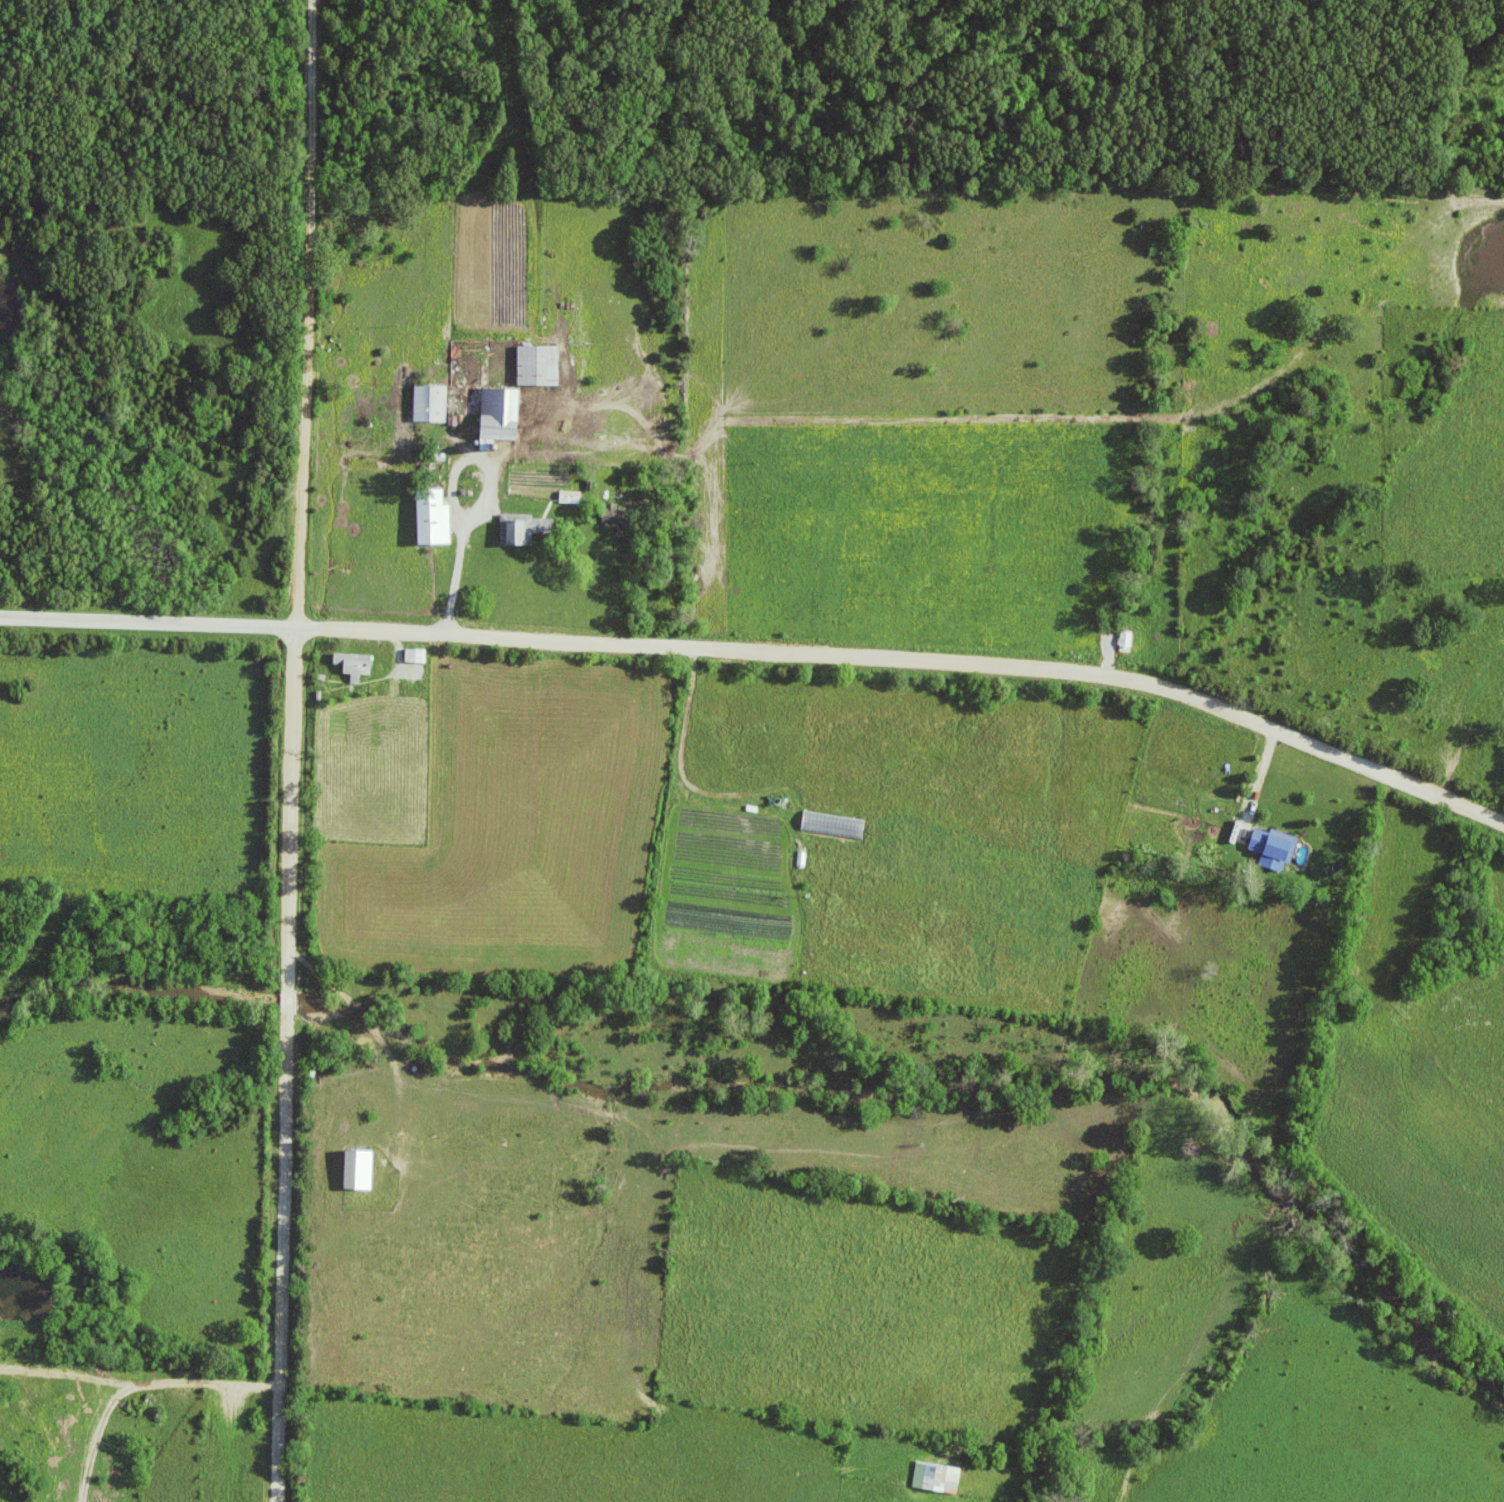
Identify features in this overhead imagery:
building: (540, 366)
building: (431, 404)
building: (501, 415)
road: (448, 480)
building: (570, 498)
building: (435, 519)
building: (518, 534)
road: (449, 584)
road: (148, 619)
building: (1126, 640)
road: (913, 654)
building: (416, 657)
building: (356, 666)
road: (295, 750)
road: (1266, 768)
building: (1274, 849)
building: (360, 1172)
road: (681, 1183)
road: (142, 1380)

